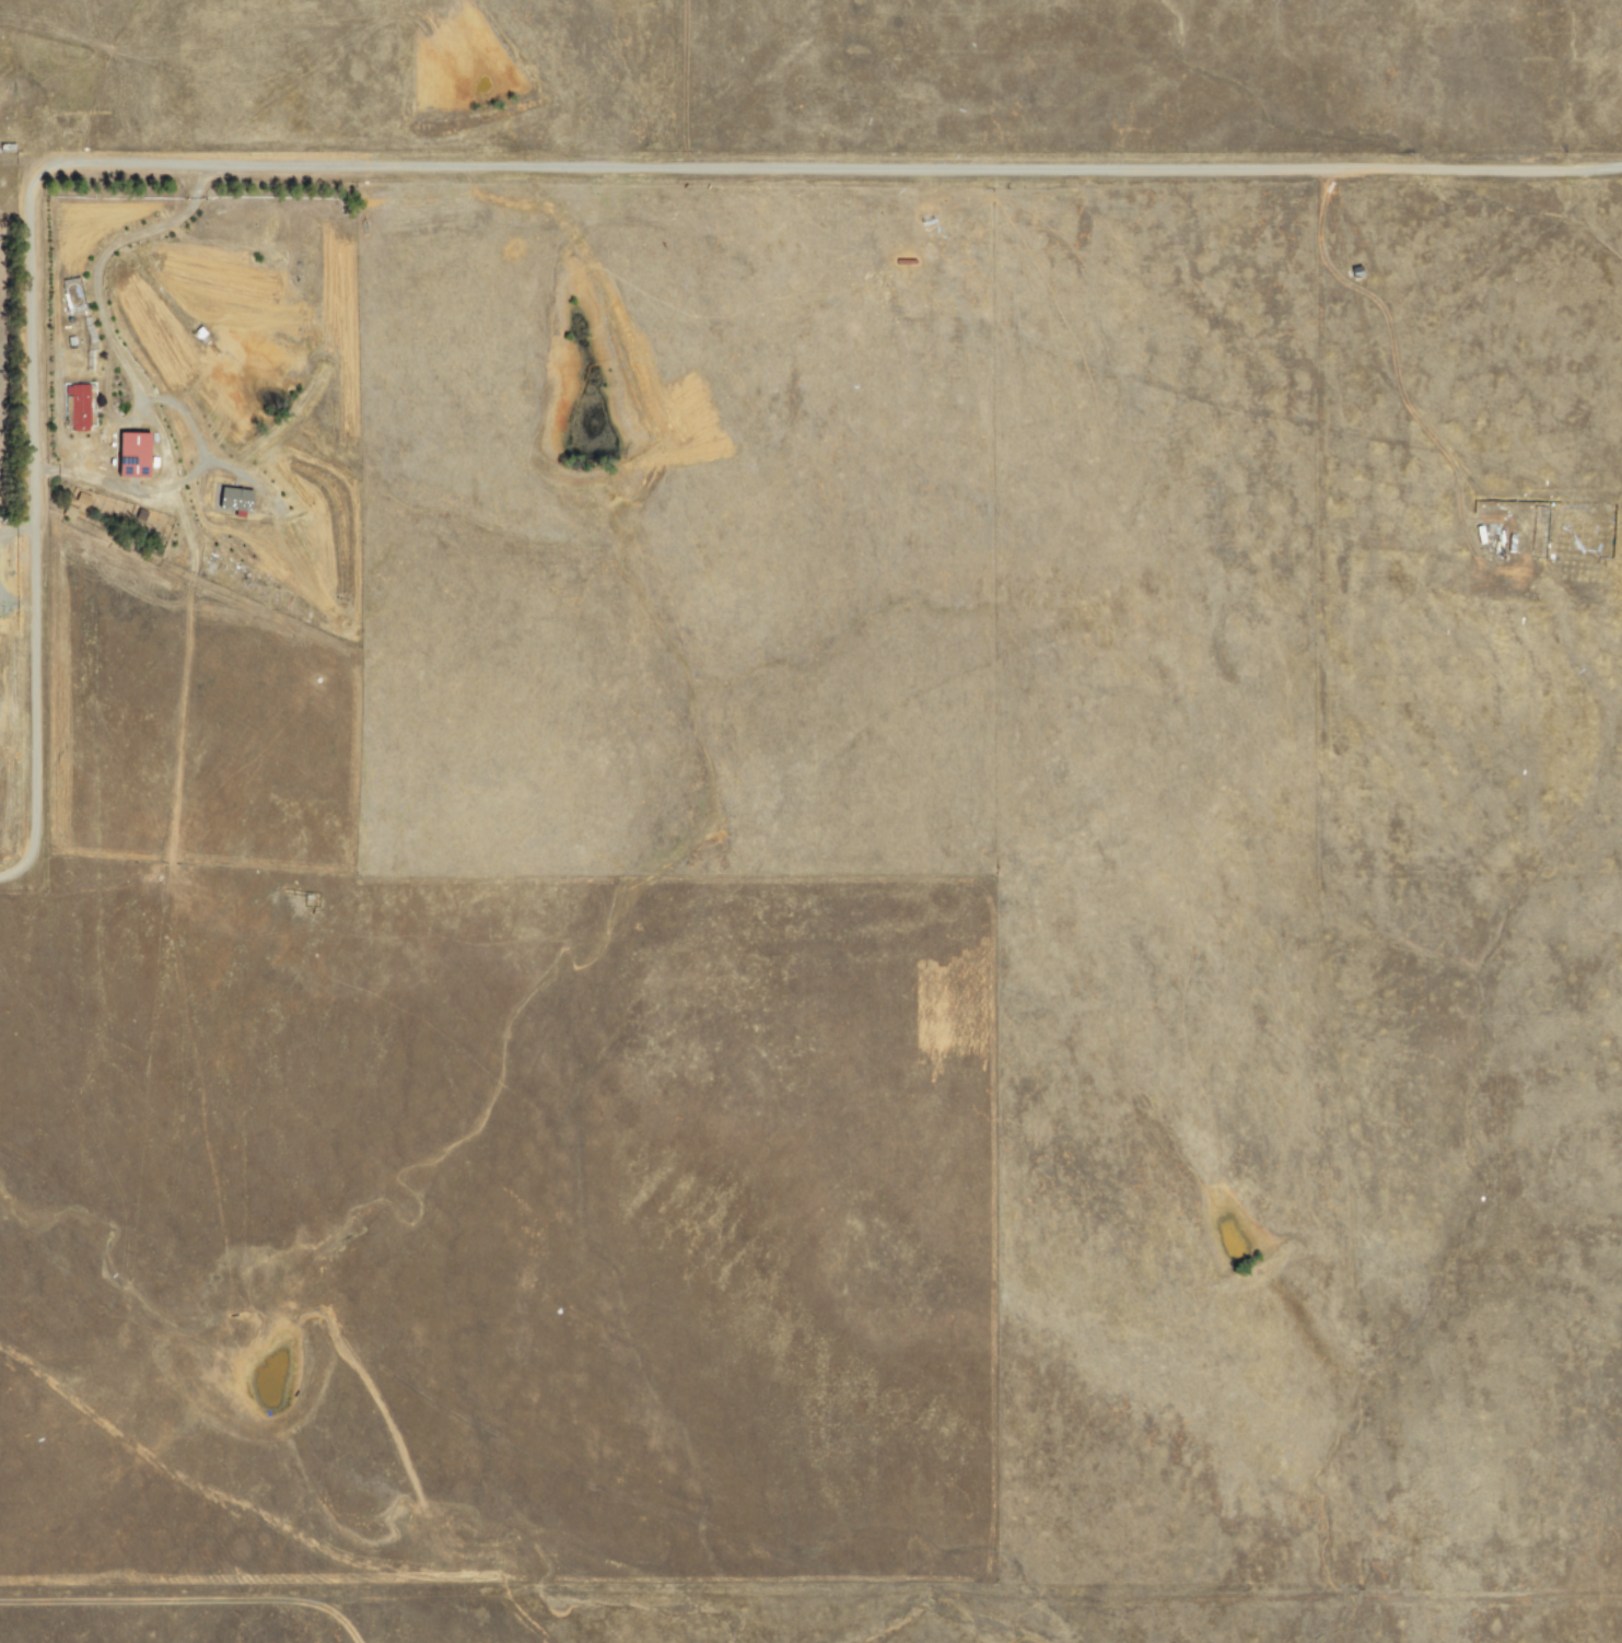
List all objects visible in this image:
road: (830, 165)
building: (231, 499)
road: (31, 526)
road: (810, 1595)

